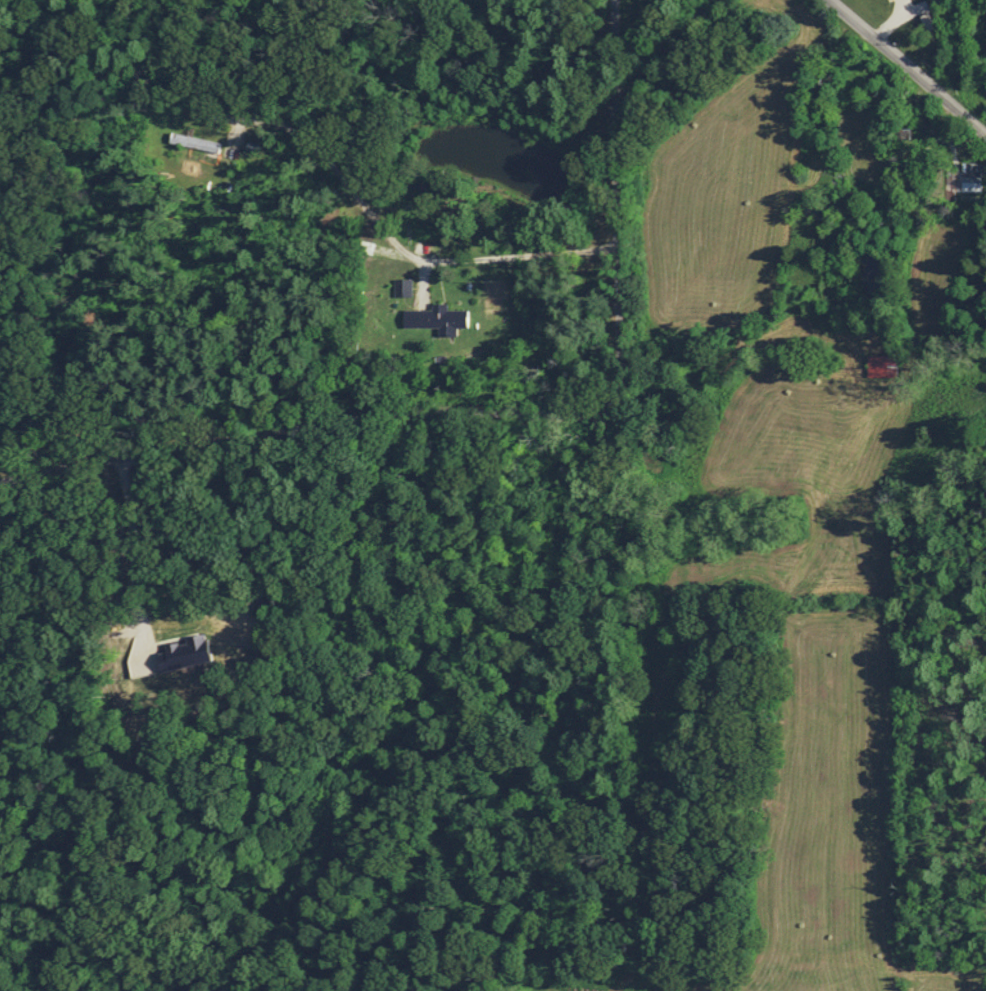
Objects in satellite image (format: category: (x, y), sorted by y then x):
road: (906, 67)
building: (204, 140)
building: (970, 177)
building: (433, 316)
building: (880, 365)
road: (506, 415)

